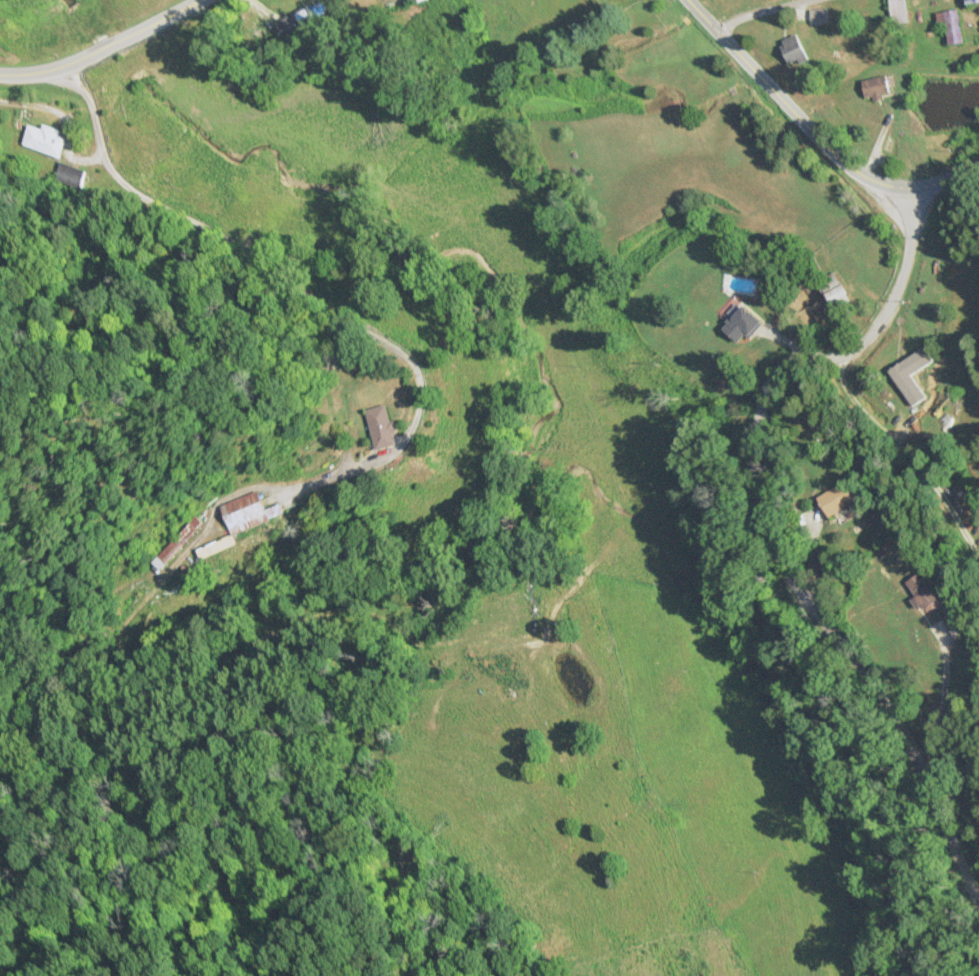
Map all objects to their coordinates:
building: (415, 0)
building: (972, 1)
building: (900, 11)
road: (756, 12)
building: (819, 15)
building: (299, 21)
building: (952, 25)
road: (117, 37)
building: (795, 49)
road: (25, 72)
building: (877, 86)
road: (816, 134)
building: (42, 138)
road: (251, 261)
building: (834, 290)
building: (742, 324)
building: (382, 427)
building: (838, 498)
building: (238, 521)
road: (764, 523)
building: (178, 542)
building: (923, 591)
building: (510, 604)

